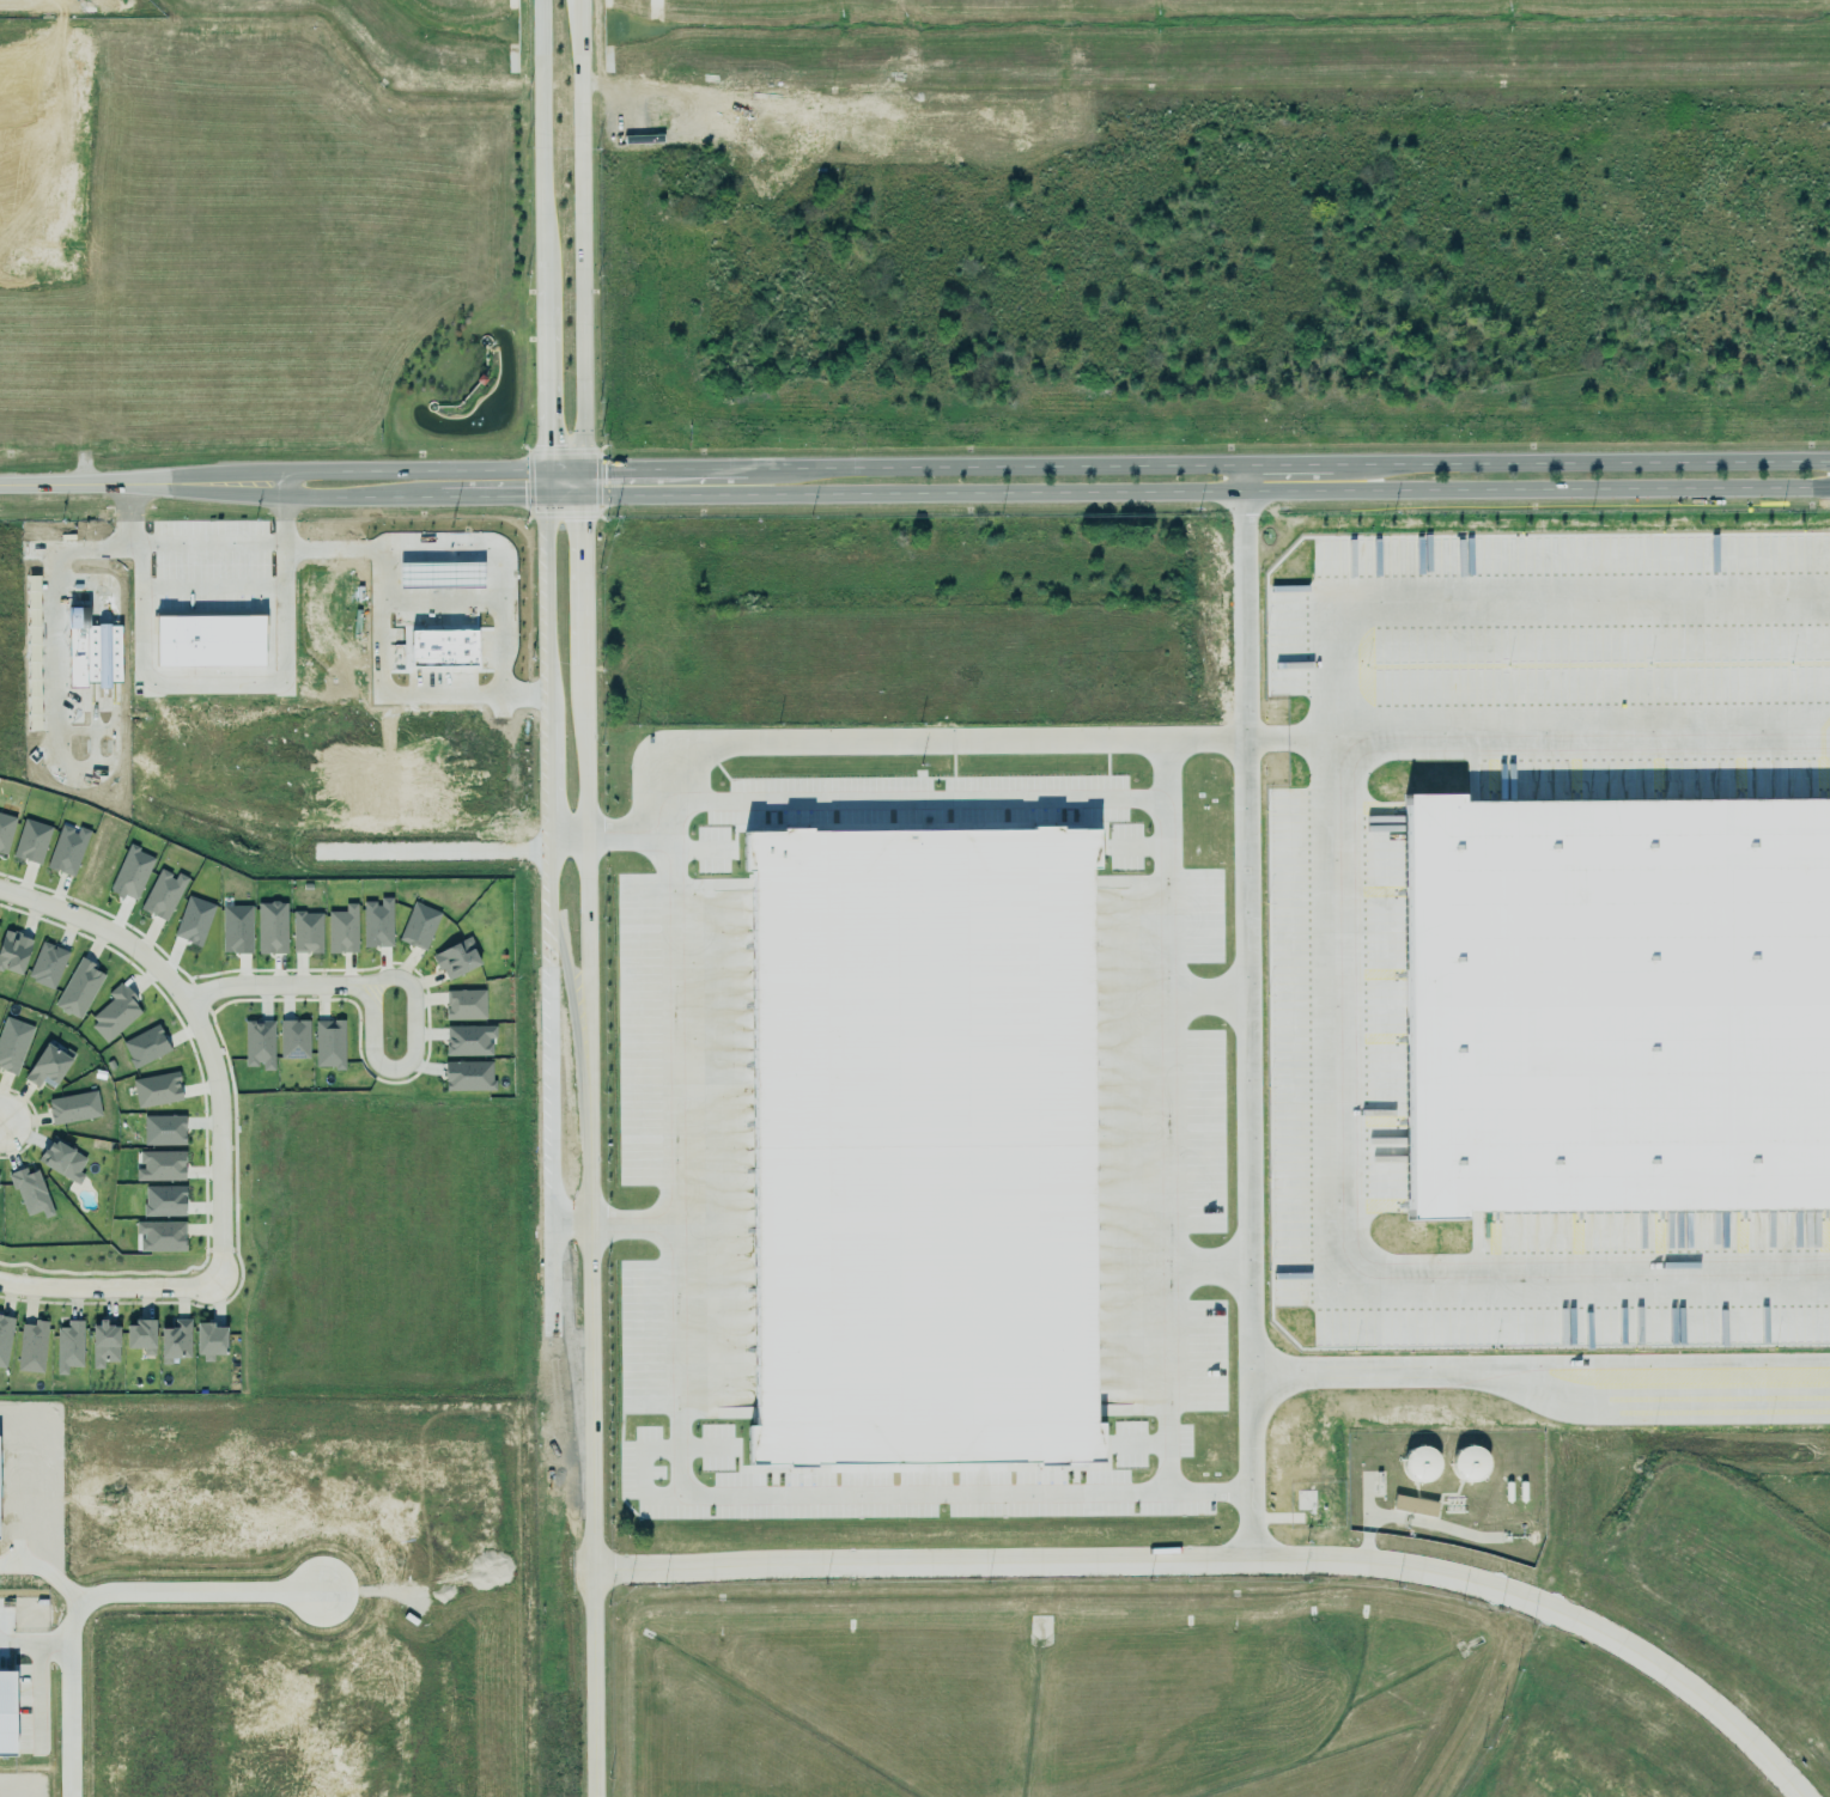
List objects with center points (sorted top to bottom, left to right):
road: (541, 248)
road: (579, 248)
road: (1205, 465)
traffic signals: (543, 469)
traffic signals: (582, 469)
road: (365, 470)
road: (1248, 479)
road: (1386, 479)
road: (74, 483)
road: (248, 489)
road: (1205, 493)
road: (400, 497)
road: (517, 497)
traffic signals: (543, 497)
traffic signals: (582, 497)
building: (1307, 529)
road: (81, 548)
road: (209, 548)
road: (330, 549)
road: (413, 552)
road: (440, 552)
road: (463, 552)
road: (376, 565)
road: (414, 574)
road: (463, 574)
road: (440, 575)
road: (90, 587)
road: (205, 589)
road: (111, 592)
road: (414, 593)
road: (442, 593)
road: (464, 593)
road: (440, 601)
road: (281, 633)
road: (53, 639)
building: (209, 640)
road: (92, 653)
road: (113, 654)
road: (214, 684)
road: (92, 706)
road: (74, 729)
road: (104, 730)
road: (1540, 731)
road: (55, 739)
road: (883, 739)
road: (108, 763)
road: (85, 766)
road: (922, 802)
building: (5, 829)
road: (565, 836)
building: (31, 841)
building: (67, 849)
building: (132, 872)
building: (163, 894)
building: (376, 920)
building: (419, 926)
building: (270, 927)
building: (236, 928)
building: (342, 930)
building: (306, 932)
building: (13, 951)
building: (456, 958)
building: (47, 965)
road: (276, 976)
road: (585, 980)
road: (548, 982)
building: (79, 988)
road: (1212, 992)
building: (464, 1004)
building: (1616, 1005)
building: (115, 1012)
road: (1253, 1027)
road: (201, 1029)
building: (293, 1038)
building: (469, 1040)
building: (13, 1043)
building: (259, 1043)
building: (329, 1043)
building: (145, 1046)
road: (411, 1046)
building: (47, 1067)
building: (468, 1076)
building: (157, 1089)
building: (73, 1107)
road: (1172, 1114)
road: (0, 1122)
building: (163, 1129)
building: (922, 1147)
building: (160, 1165)
building: (30, 1192)
building: (164, 1200)
road: (571, 1220)
road: (633, 1222)
building: (160, 1236)
road: (1346, 1239)
road: (1215, 1269)
road: (110, 1287)
building: (140, 1335)
building: (5, 1339)
building: (172, 1339)
building: (209, 1341)
building: (104, 1344)
building: (30, 1345)
building: (68, 1346)
road: (1543, 1372)
road: (686, 1449)
building: (1419, 1464)
building: (1469, 1464)
building: (1413, 1505)
road: (1233, 1559)
road: (105, 1600)
road: (591, 1631)
road: (35, 1643)
building: (6, 1713)

